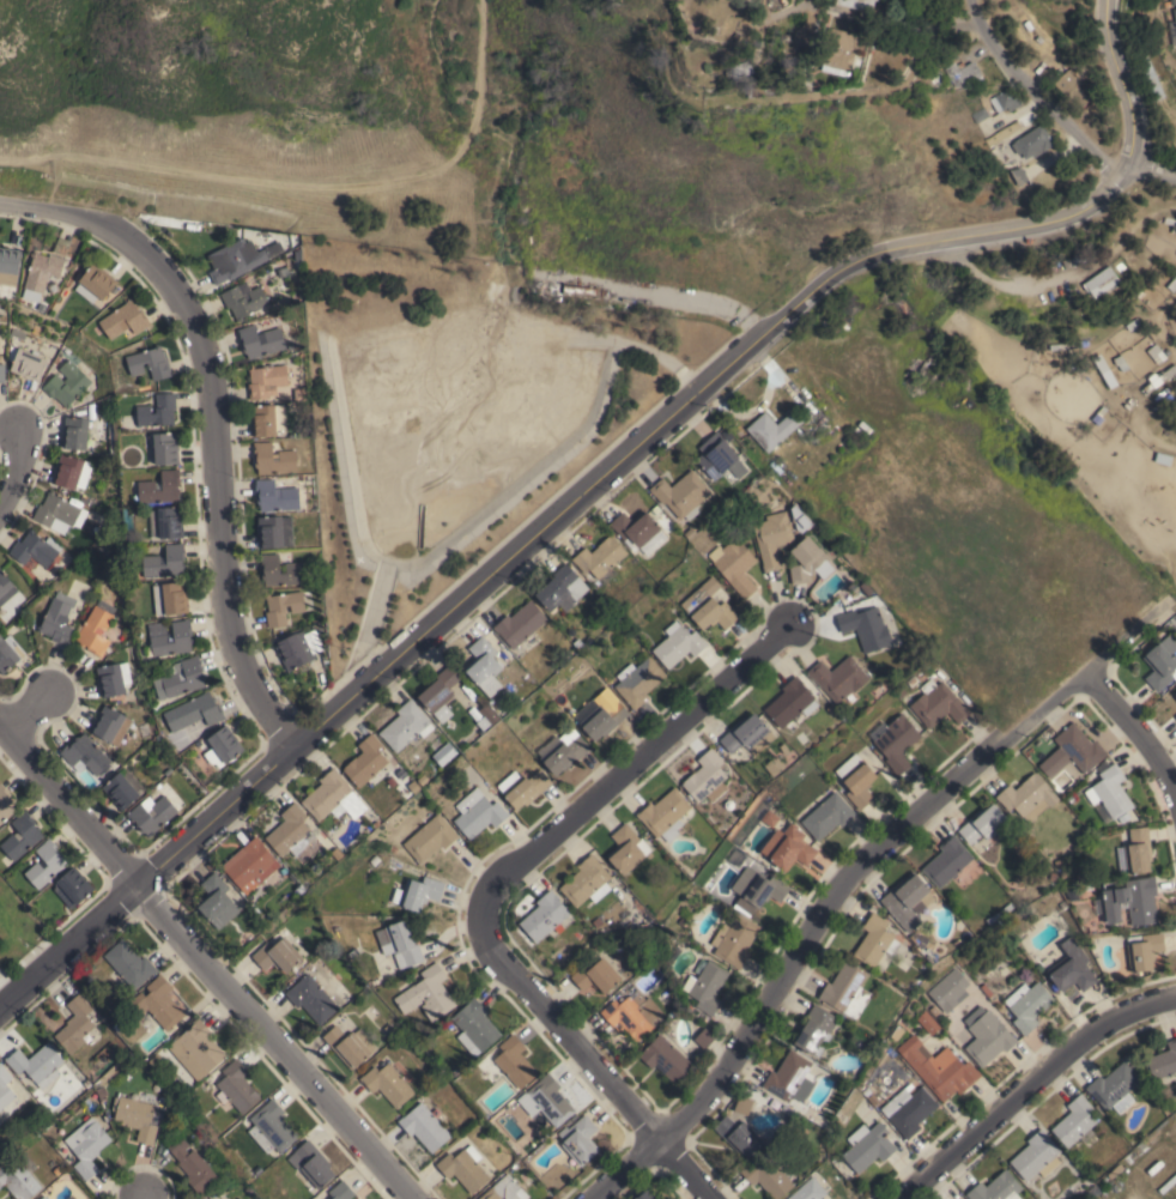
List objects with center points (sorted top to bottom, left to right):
road: (480, 4)
building: (854, 5)
building: (1175, 18)
building: (837, 50)
building: (963, 74)
building: (1151, 77)
road: (1122, 85)
building: (1071, 87)
road: (1033, 95)
building: (1005, 102)
building: (978, 116)
building: (1028, 145)
road: (1148, 170)
road: (308, 178)
building: (1013, 180)
building: (297, 254)
building: (1086, 255)
building: (238, 259)
building: (8, 265)
building: (281, 271)
building: (41, 273)
building: (1101, 281)
building: (96, 283)
building: (1172, 284)
road: (1008, 285)
building: (53, 286)
building: (581, 289)
road: (675, 292)
building: (243, 298)
building: (42, 307)
building: (123, 319)
building: (1132, 325)
building: (260, 340)
building: (1158, 352)
building: (1120, 362)
building: (148, 363)
building: (28, 364)
building: (1, 371)
building: (1158, 377)
building: (266, 379)
building: (69, 382)
building: (1129, 405)
building: (157, 411)
road: (213, 419)
building: (262, 419)
building: (772, 429)
building: (74, 432)
building: (726, 435)
building: (160, 448)
building: (719, 456)
building: (273, 459)
road: (17, 468)
building: (71, 472)
building: (160, 488)
building: (681, 493)
building: (274, 496)
building: (655, 510)
building: (60, 514)
building: (165, 522)
building: (274, 531)
building: (638, 531)
road: (533, 533)
building: (689, 533)
building: (771, 538)
building: (35, 549)
building: (600, 558)
building: (807, 561)
building: (164, 562)
building: (734, 565)
building: (280, 570)
building: (5, 587)
building: (560, 588)
building: (170, 598)
building: (283, 606)
building: (708, 606)
building: (57, 618)
building: (520, 623)
building: (865, 626)
building: (96, 628)
building: (169, 637)
building: (587, 638)
building: (577, 643)
building: (678, 643)
building: (295, 649)
building: (8, 652)
building: (1160, 662)
building: (483, 666)
building: (303, 667)
building: (180, 678)
building: (838, 678)
building: (110, 679)
building: (637, 680)
building: (878, 689)
building: (898, 690)
building: (440, 692)
building: (575, 692)
building: (1175, 694)
building: (515, 702)
building: (563, 703)
building: (790, 703)
building: (938, 703)
building: (199, 709)
road: (30, 713)
building: (1175, 716)
building: (602, 719)
building: (108, 722)
building: (483, 722)
building: (405, 725)
building: (747, 734)
building: (542, 738)
road: (1142, 738)
building: (895, 741)
building: (222, 746)
building: (783, 749)
building: (562, 750)
building: (444, 752)
building: (1072, 752)
building: (85, 756)
building: (365, 759)
building: (774, 765)
road: (632, 773)
building: (705, 777)
building: (422, 779)
building: (856, 780)
building: (412, 786)
building: (122, 787)
building: (522, 787)
building: (1109, 792)
building: (333, 797)
building: (1028, 797)
building: (440, 798)
building: (1071, 798)
building: (6, 804)
building: (151, 813)
building: (477, 813)
building: (665, 813)
building: (828, 816)
building: (1123, 817)
building: (769, 818)
building: (750, 822)
building: (982, 823)
building: (1079, 830)
building: (290, 831)
building: (22, 836)
building: (430, 837)
building: (788, 847)
building: (393, 848)
building: (626, 848)
building: (1135, 852)
building: (335, 853)
building: (735, 858)
building: (946, 861)
building: (56, 862)
building: (249, 865)
building: (316, 867)
road: (851, 870)
building: (586, 882)
building: (1087, 885)
building: (72, 886)
building: (299, 889)
building: (757, 889)
building: (417, 892)
building: (216, 901)
building: (1129, 902)
building: (909, 903)
building: (1006, 909)
building: (544, 915)
building: (992, 918)
building: (596, 921)
building: (681, 921)
park: (16, 932)
building: (734, 940)
building: (874, 940)
building: (399, 943)
building: (1142, 950)
building: (351, 953)
building: (278, 955)
building: (129, 963)
road: (204, 963)
building: (1071, 967)
building: (595, 974)
building: (705, 986)
building: (947, 988)
building: (986, 989)
building: (847, 991)
building: (426, 993)
building: (311, 998)
building: (158, 1003)
building: (1028, 1005)
building: (632, 1015)
building: (927, 1022)
building: (74, 1024)
building: (474, 1027)
building: (814, 1030)
building: (896, 1030)
building: (705, 1036)
building: (989, 1038)
building: (350, 1044)
building: (196, 1049)
building: (665, 1058)
road: (586, 1060)
building: (514, 1061)
building: (1162, 1062)
building: (36, 1064)
building: (126, 1064)
building: (938, 1067)
building: (787, 1074)
building: (387, 1083)
road: (1029, 1086)
building: (236, 1088)
building: (1114, 1088)
building: (36, 1092)
building: (7, 1095)
building: (872, 1098)
building: (547, 1100)
building: (742, 1104)
building: (908, 1109)
building: (137, 1116)
building: (1074, 1122)
building: (424, 1126)
building: (271, 1127)
building: (739, 1134)
building: (578, 1139)
building: (86, 1145)
building: (867, 1146)
building: (1036, 1156)
building: (190, 1163)
building: (311, 1163)
building: (463, 1168)
building: (56, 1170)
building: (1115, 1170)
building: (766, 1176)
building: (19, 1180)
building: (255, 1185)
building: (996, 1188)
building: (248, 1189)
building: (504, 1189)
building: (808, 1189)
building: (340, 1191)
building: (647, 1194)
building: (44, 1197)
road: (146, 1198)
building: (959, 1198)

